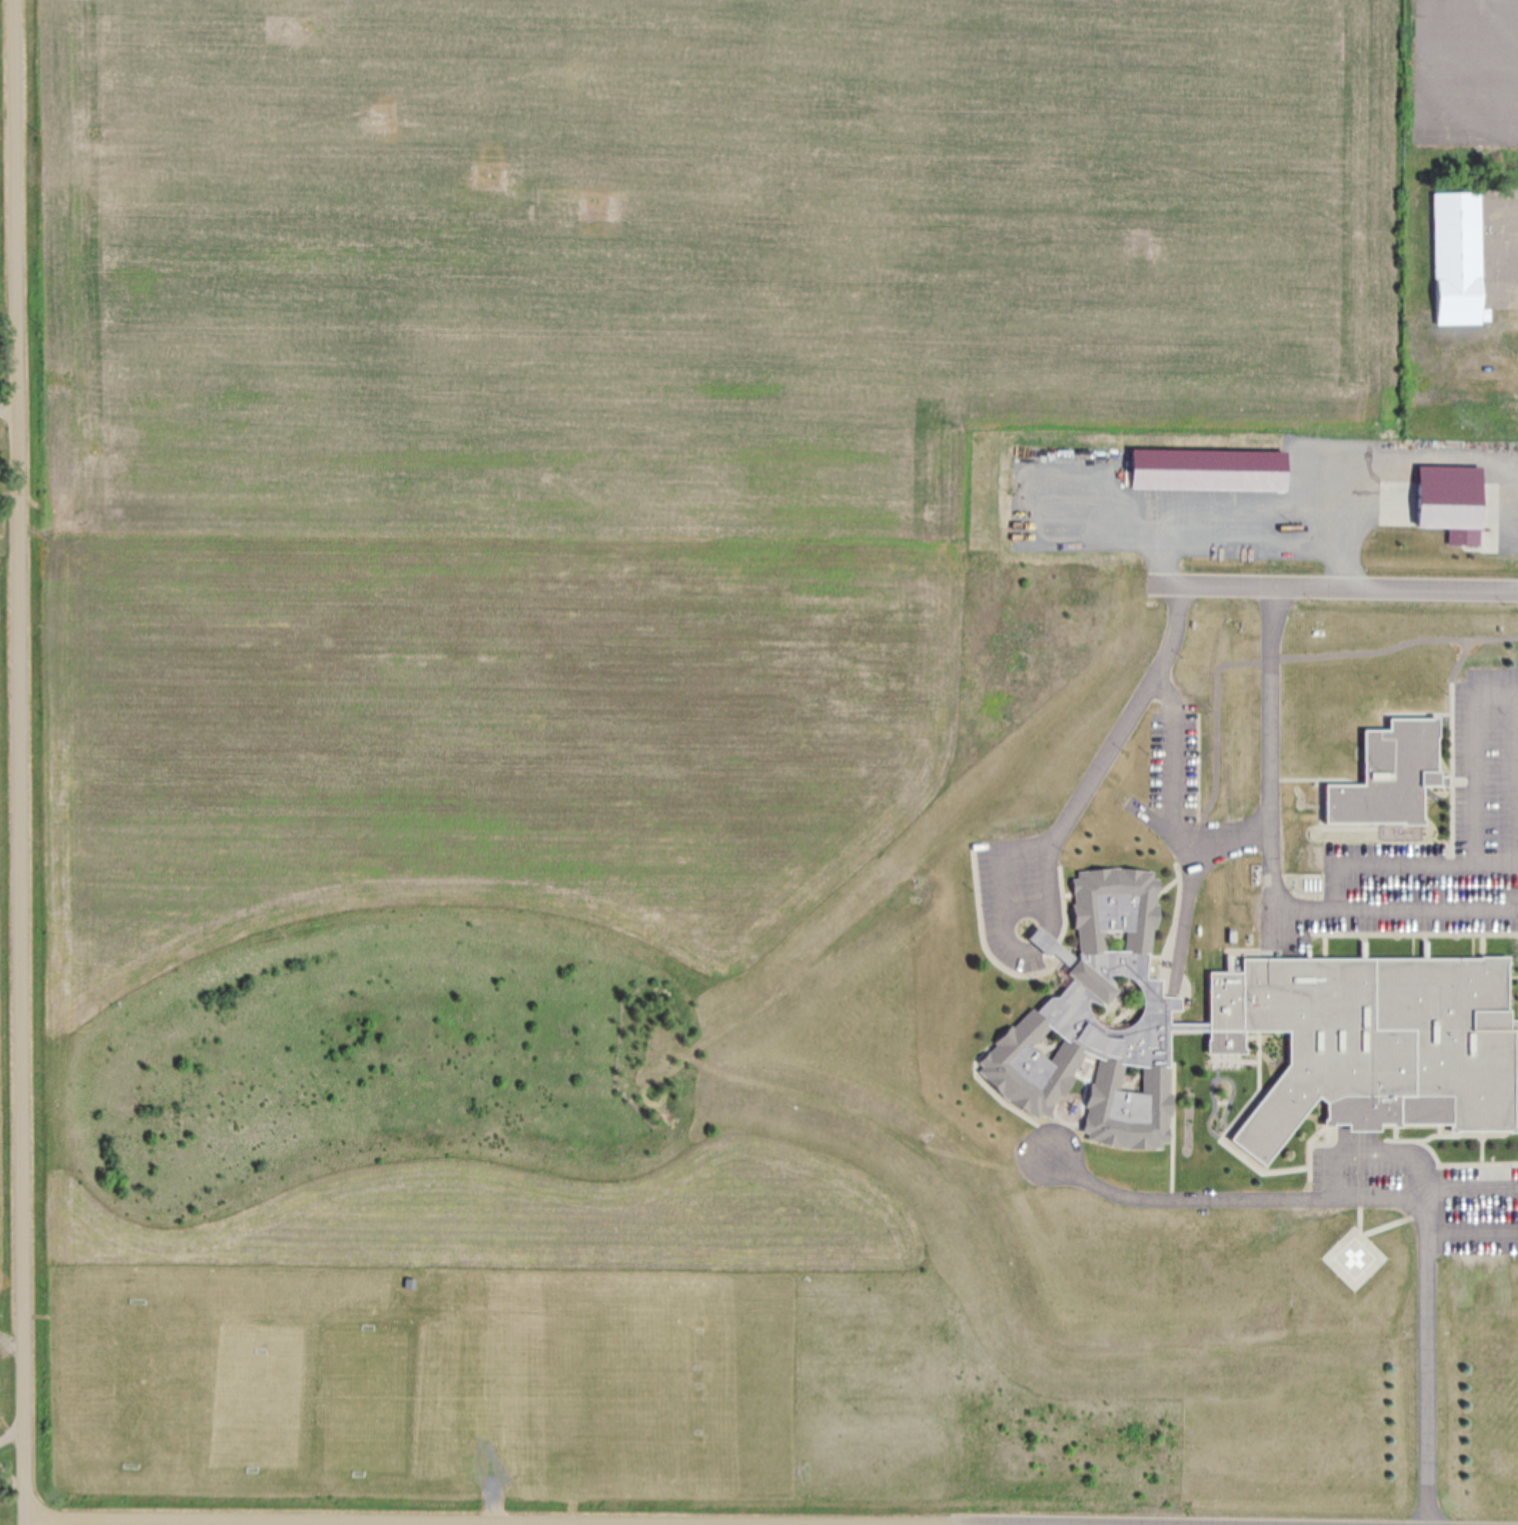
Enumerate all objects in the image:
crop: (3, 158)
building: (1456, 258)
road: (1336, 585)
road: (1277, 651)
building: (1303, 714)
road: (1173, 747)
road: (1272, 754)
road: (1475, 756)
road: (22, 762)
building: (1388, 775)
road: (1170, 825)
road: (1053, 840)
road: (1407, 861)
road: (1192, 875)
road: (1395, 906)
crop: (5, 938)
building: (1372, 1036)
road: (1279, 1196)
road: (1360, 1214)
road: (1472, 1229)
helipad: (1355, 1257)
road: (1426, 1279)
road: (605, 1518)
crop: (131, 1524)

